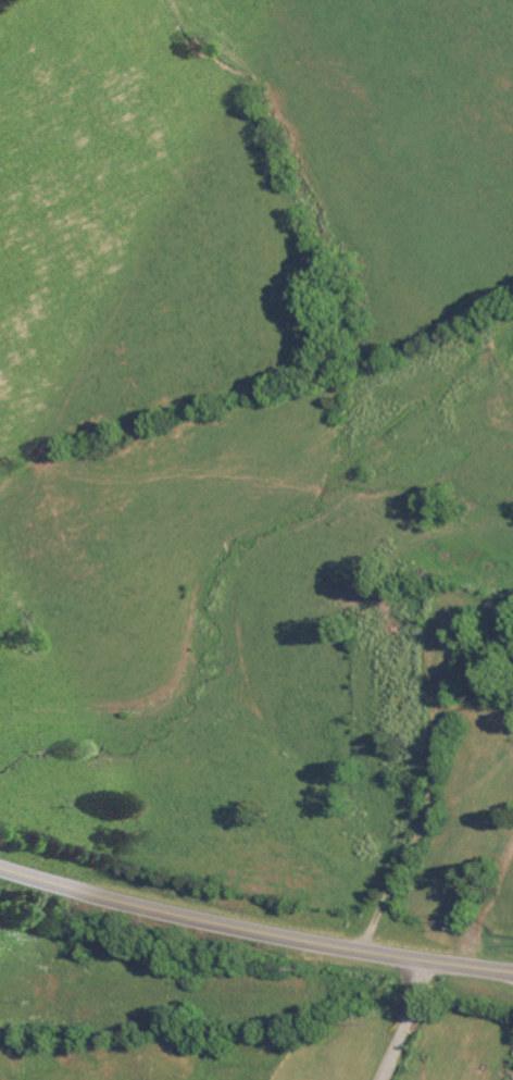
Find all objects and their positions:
road: (435, 752)
road: (485, 905)
road: (253, 932)

